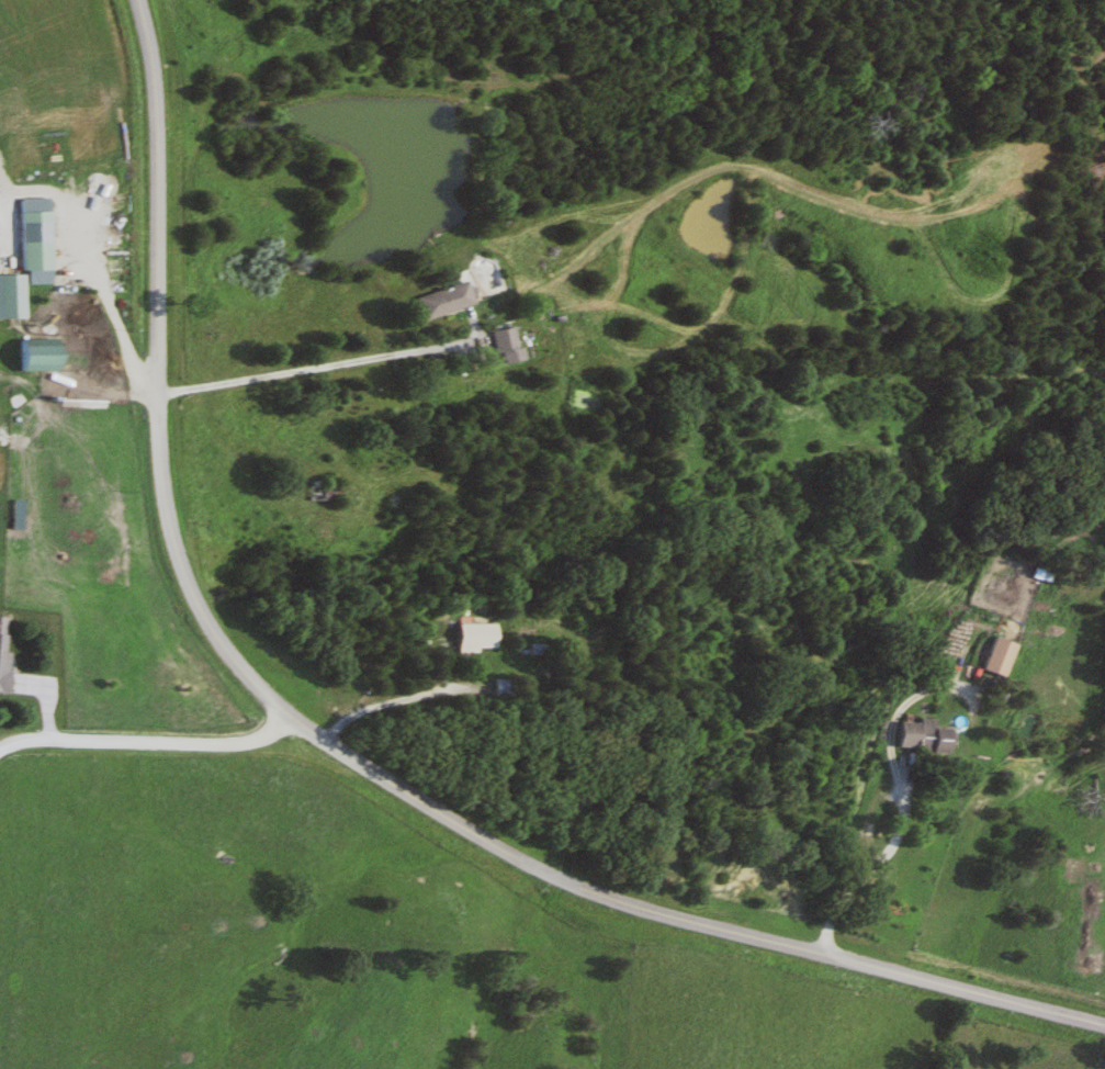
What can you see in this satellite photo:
building: (30, 240)
building: (10, 296)
building: (440, 301)
road: (105, 305)
building: (500, 345)
building: (31, 355)
road: (312, 367)
building: (315, 494)
building: (466, 635)
building: (991, 656)
building: (2, 659)
road: (407, 710)
building: (914, 735)
road: (148, 751)
road: (335, 757)
road: (881, 868)
road: (1103, 1064)

